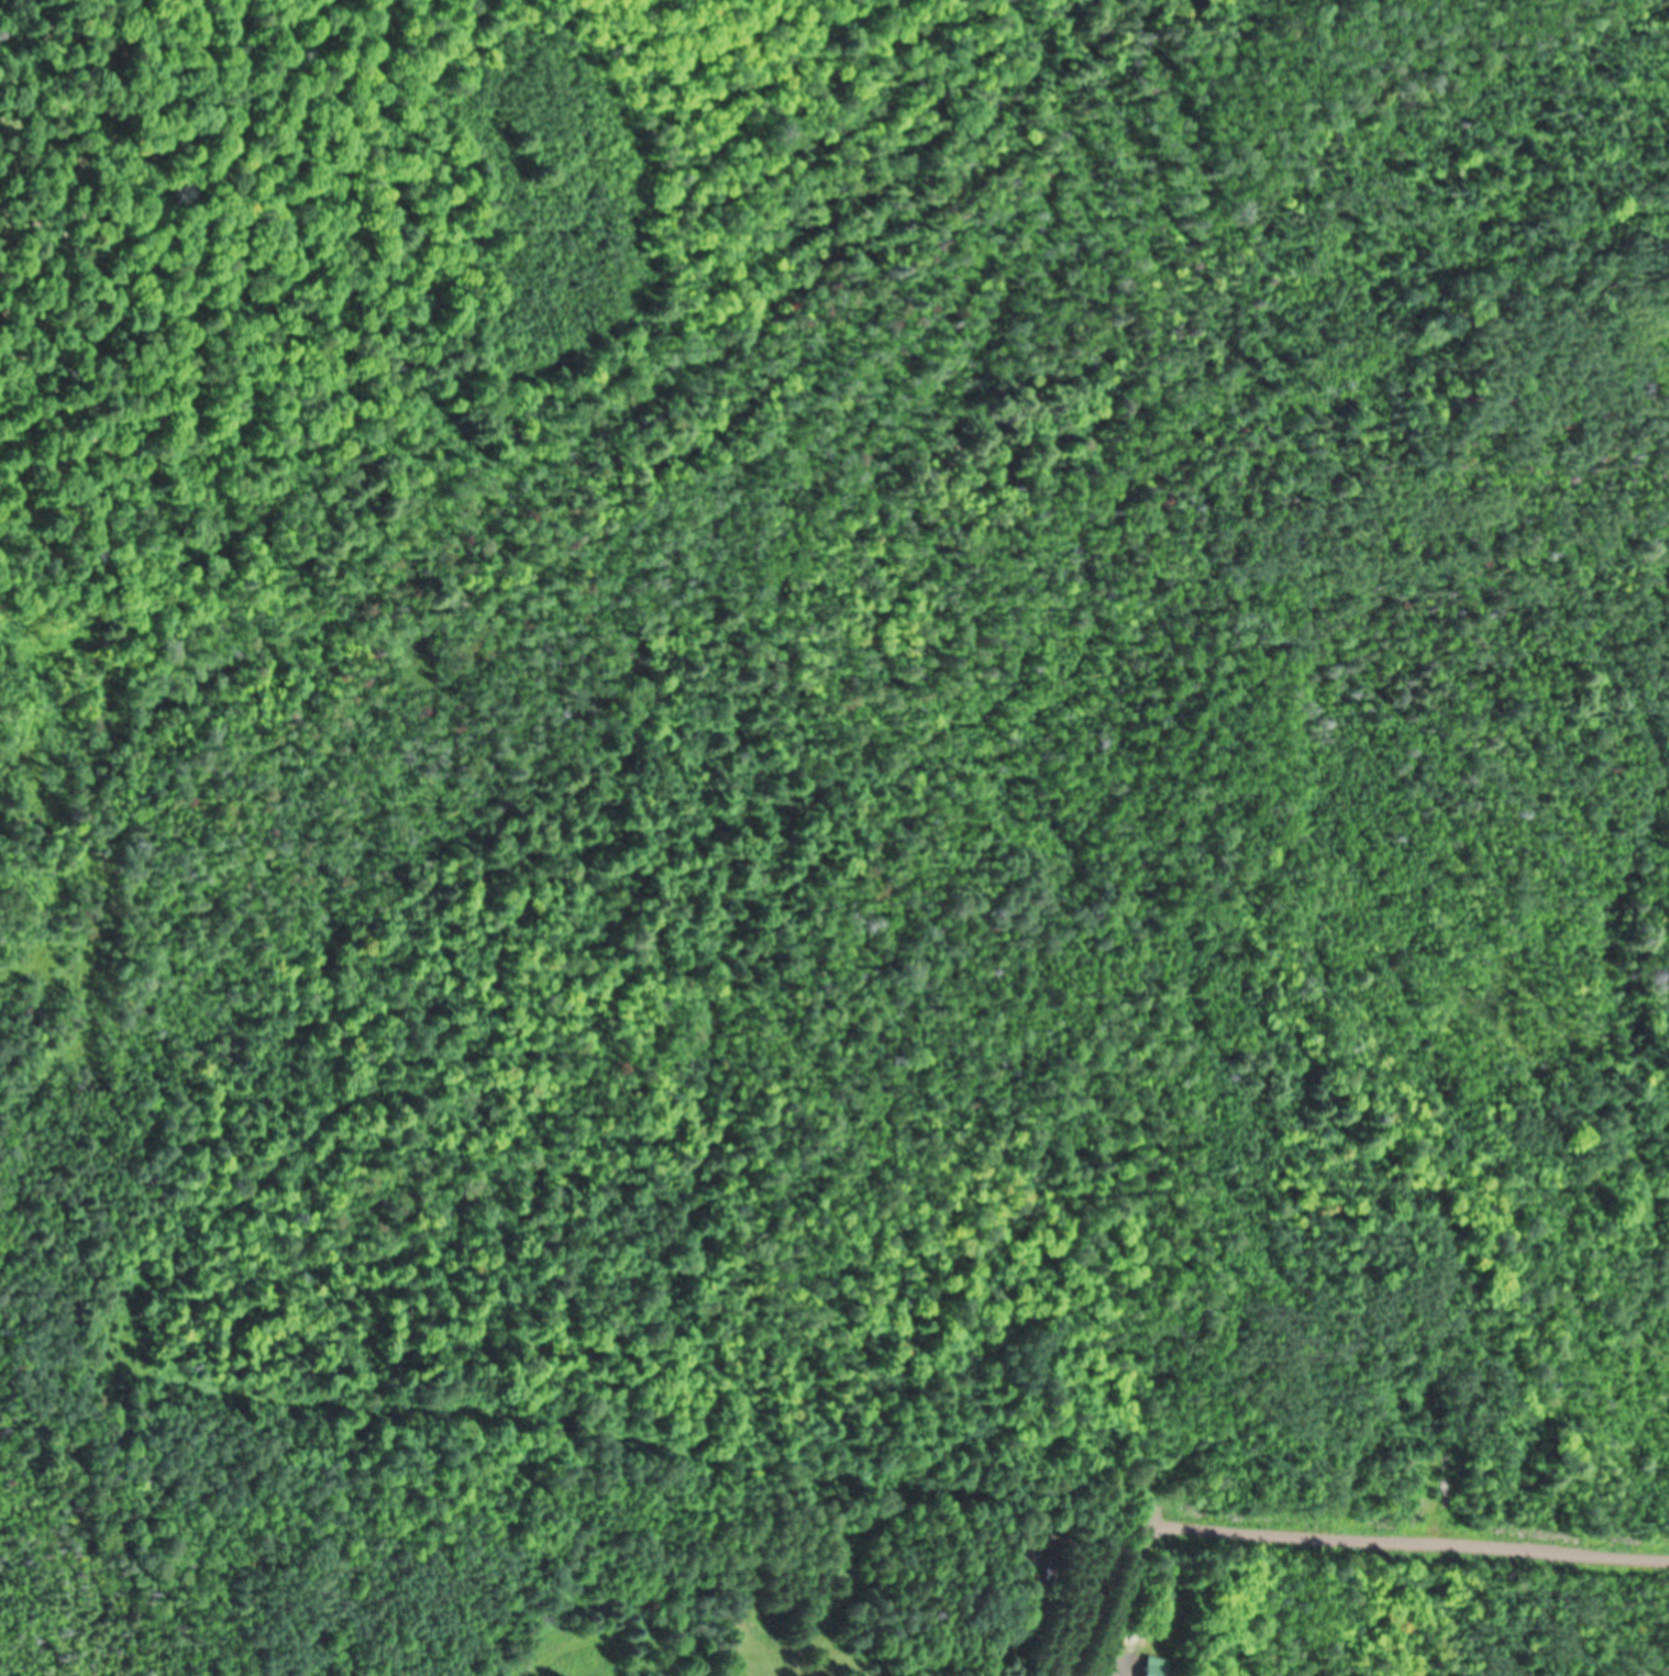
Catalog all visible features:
road: (1412, 1544)
building: (1157, 1668)

